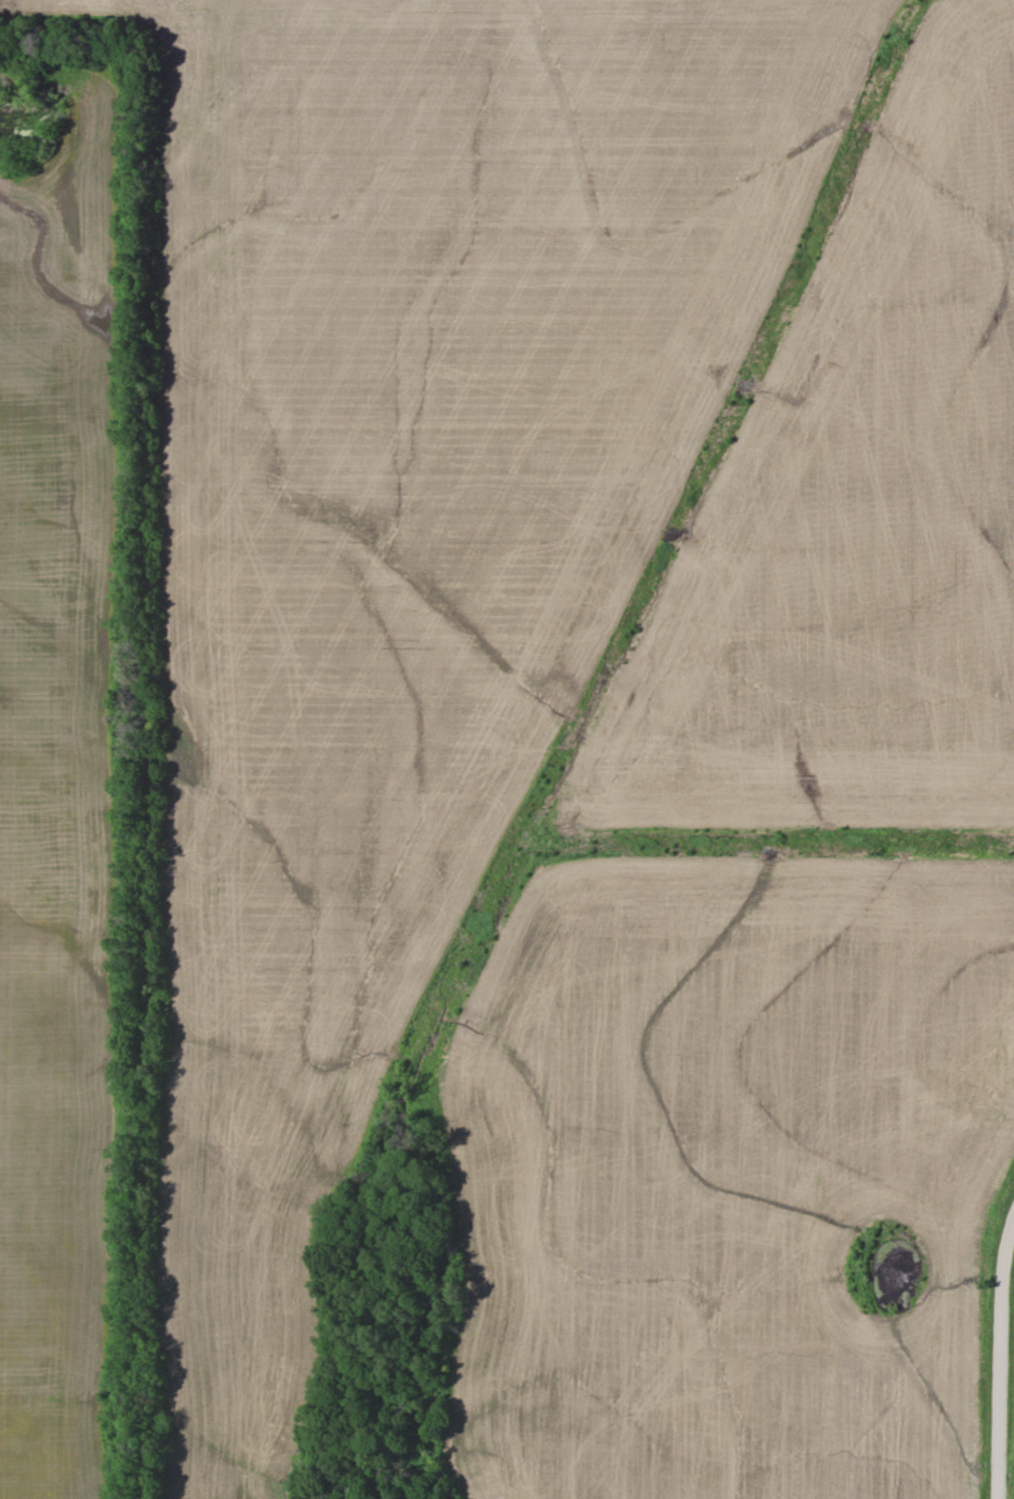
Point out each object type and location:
road: (1003, 1263)
road: (997, 1399)

